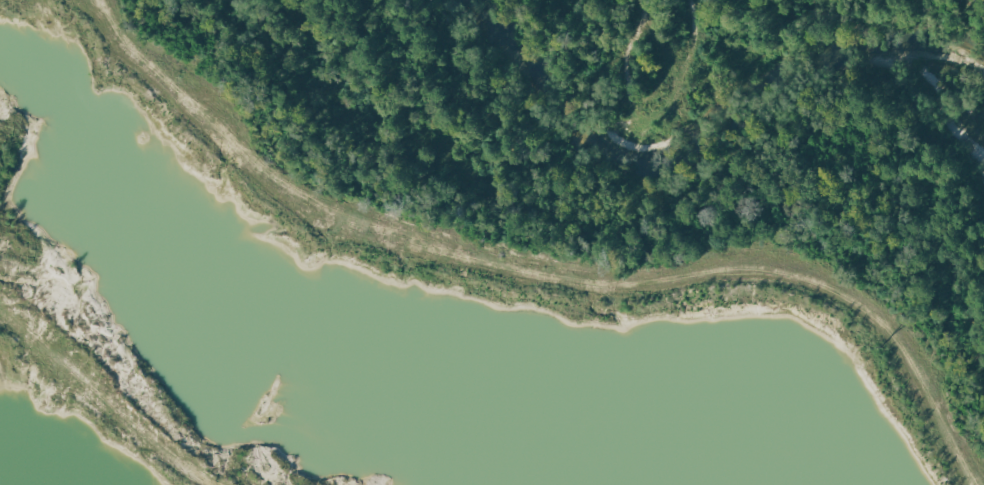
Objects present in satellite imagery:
river: (701, 121)
road: (549, 269)

